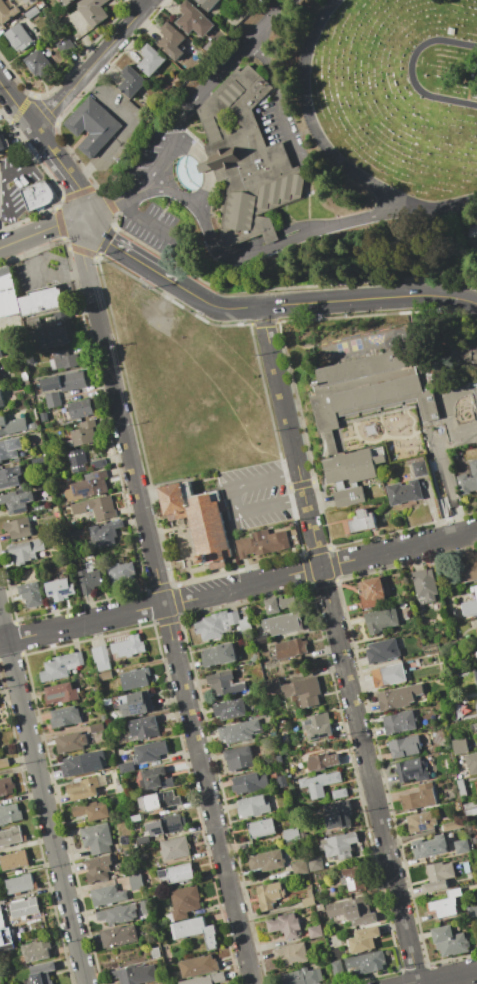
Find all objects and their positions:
building: (64, 2)
building: (39, 4)
building: (207, 4)
building: (92, 11)
building: (7, 12)
building: (31, 12)
building: (193, 19)
building: (450, 31)
building: (18, 37)
building: (170, 37)
building: (65, 45)
building: (210, 47)
building: (150, 60)
building: (38, 63)
road: (90, 64)
road: (411, 71)
building: (131, 81)
road: (208, 82)
road: (277, 99)
building: (90, 125)
road: (124, 128)
building: (3, 142)
park: (317, 148)
road: (50, 150)
road: (325, 152)
building: (245, 162)
road: (26, 166)
fountain: (186, 172)
parking lot: (14, 183)
building: (36, 195)
road: (113, 201)
road: (8, 216)
traffic signals: (91, 222)
road: (152, 223)
road: (44, 228)
building: (472, 230)
road: (258, 252)
road: (130, 255)
road: (37, 278)
building: (7, 294)
building: (40, 302)
road: (323, 302)
building: (55, 331)
park: (355, 344)
park: (342, 348)
road: (231, 350)
building: (0, 354)
building: (468, 355)
building: (29, 358)
building: (62, 359)
building: (433, 376)
building: (24, 377)
building: (64, 382)
road: (212, 384)
building: (52, 399)
building: (1, 402)
building: (29, 402)
building: (80, 408)
building: (366, 410)
building: (17, 414)
building: (43, 416)
building: (11, 425)
building: (32, 425)
building: (82, 434)
building: (10, 449)
building: (76, 460)
building: (98, 463)
building: (421, 468)
building: (9, 476)
building: (469, 480)
building: (87, 486)
building: (404, 492)
parking lot: (253, 495)
road: (233, 500)
building: (17, 501)
building: (96, 508)
building: (197, 519)
building: (360, 522)
building: (18, 528)
building: (104, 533)
building: (260, 543)
building: (25, 550)
building: (467, 569)
building: (121, 574)
building: (90, 578)
building: (424, 585)
building: (59, 587)
road: (238, 587)
building: (371, 592)
building: (30, 594)
road: (161, 603)
building: (281, 603)
building: (470, 605)
building: (381, 620)
building: (476, 620)
building: (221, 624)
building: (278, 626)
road: (337, 645)
building: (476, 645)
building: (128, 646)
building: (291, 648)
building: (382, 650)
building: (476, 653)
building: (218, 655)
building: (100, 657)
building: (60, 666)
building: (393, 673)
building: (475, 675)
building: (104, 676)
building: (135, 678)
building: (224, 684)
building: (271, 687)
building: (304, 691)
building: (60, 694)
building: (476, 695)
building: (246, 696)
building: (396, 698)
building: (136, 703)
building: (456, 705)
building: (230, 709)
building: (65, 717)
building: (103, 718)
building: (399, 722)
building: (256, 723)
building: (317, 726)
building: (143, 727)
building: (96, 728)
building: (236, 732)
building: (70, 742)
building: (460, 745)
building: (404, 747)
building: (150, 751)
building: (238, 757)
building: (278, 759)
building: (323, 761)
building: (3, 762)
building: (471, 762)
building: (79, 765)
building: (126, 767)
building: (411, 770)
building: (461, 773)
building: (155, 779)
building: (281, 780)
building: (249, 783)
building: (320, 783)
building: (6, 786)
building: (85, 787)
building: (461, 787)
building: (119, 788)
building: (339, 793)
road: (43, 795)
building: (418, 798)
building: (160, 801)
building: (253, 806)
building: (458, 806)
building: (470, 808)
building: (91, 811)
building: (9, 813)
building: (339, 814)
building: (135, 818)
building: (421, 821)
building: (169, 824)
building: (452, 825)
building: (261, 828)
building: (291, 834)
building: (10, 836)
building: (96, 838)
building: (142, 839)
building: (339, 846)
building: (429, 846)
building: (461, 846)
building: (174, 848)
building: (127, 851)
building: (13, 860)
building: (266, 861)
building: (315, 863)
building: (465, 866)
building: (299, 867)
building: (98, 869)
building: (134, 869)
building: (176, 873)
building: (438, 876)
building: (353, 879)
building: (135, 881)
building: (20, 883)
building: (0, 886)
building: (269, 894)
building: (107, 895)
building: (308, 899)
building: (1, 900)
building: (184, 901)
building: (445, 905)
building: (145, 906)
building: (24, 907)
building: (472, 911)
building: (351, 913)
building: (118, 914)
building: (1, 922)
building: (285, 926)
building: (9, 930)
building: (195, 931)
building: (315, 931)
building: (118, 936)
building: (364, 939)
building: (5, 941)
building: (449, 941)
building: (36, 951)
building: (154, 952)
building: (292, 954)
building: (367, 962)
building: (198, 965)
building: (337, 969)
building: (40, 973)
building: (134, 974)
building: (302, 976)
road: (450, 977)
building: (0, 978)
building: (206, 979)

